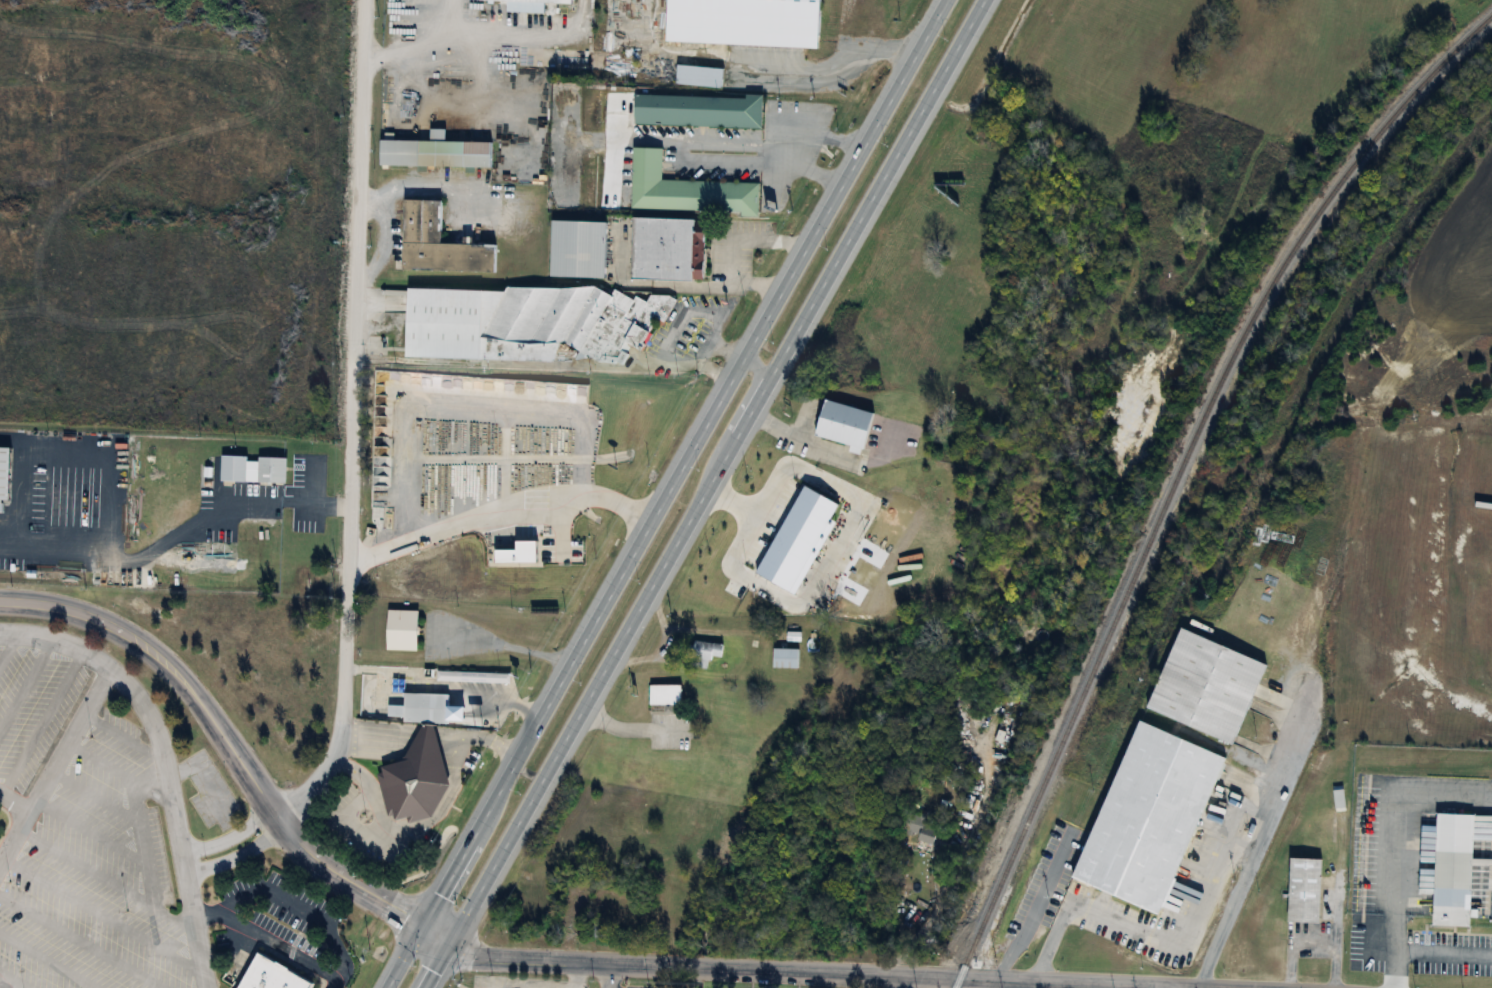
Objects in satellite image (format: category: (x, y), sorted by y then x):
building: (527, 5)
building: (741, 22)
road: (388, 57)
building: (696, 76)
building: (697, 111)
road: (823, 133)
building: (432, 154)
road: (763, 156)
building: (684, 189)
road: (381, 239)
building: (435, 244)
road: (738, 247)
building: (575, 248)
building: (663, 249)
building: (525, 322)
road: (725, 353)
road: (756, 369)
road: (350, 420)
building: (841, 423)
building: (252, 469)
building: (3, 472)
railway: (1175, 473)
road: (666, 493)
road: (703, 493)
road: (316, 505)
road: (497, 512)
road: (843, 533)
building: (795, 540)
road: (147, 554)
building: (400, 629)
building: (792, 635)
building: (702, 653)
building: (784, 657)
building: (457, 675)
building: (1206, 684)
building: (664, 694)
building: (425, 707)
building: (393, 710)
building: (1002, 730)
road: (232, 753)
road: (163, 764)
road: (53, 767)
building: (413, 779)
road: (15, 801)
road: (432, 815)
building: (1146, 817)
road: (1392, 832)
parking lot: (81, 836)
road: (230, 838)
road: (237, 856)
road: (1246, 861)
building: (1451, 870)
building: (1302, 890)
road: (291, 903)
road: (1029, 909)
parking lot: (273, 913)
road: (1141, 925)
traffic signals: (421, 928)
road: (1312, 944)
traffic signals: (448, 945)
road: (278, 946)
road: (1427, 953)
road: (793, 972)
building: (269, 975)
road: (574, 976)
road: (614, 977)
road: (908, 982)
road: (1027, 985)
road: (488, 986)

